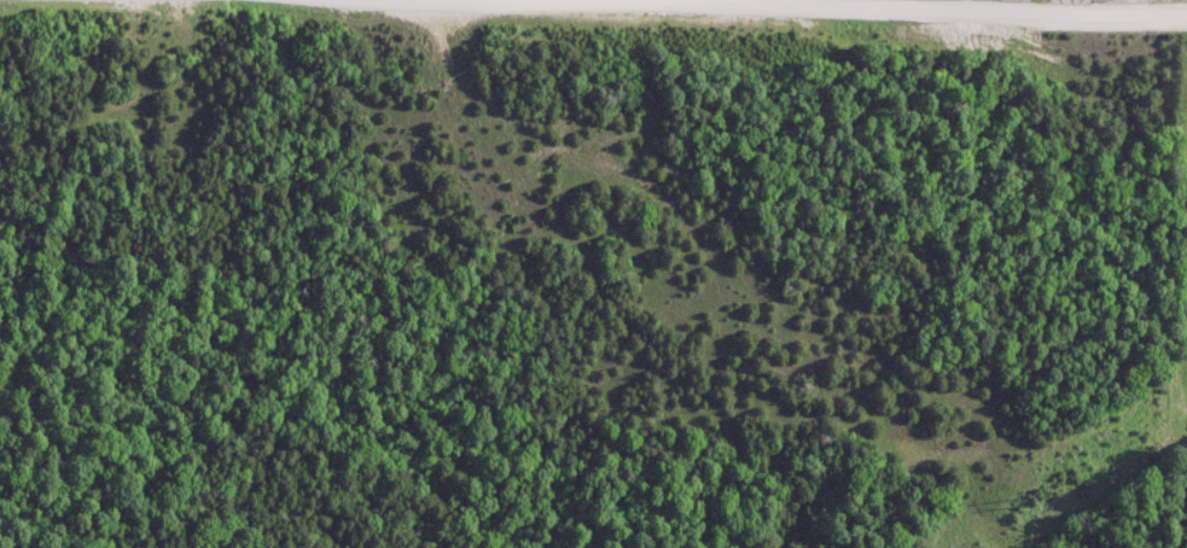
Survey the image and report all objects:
road: (790, 12)

